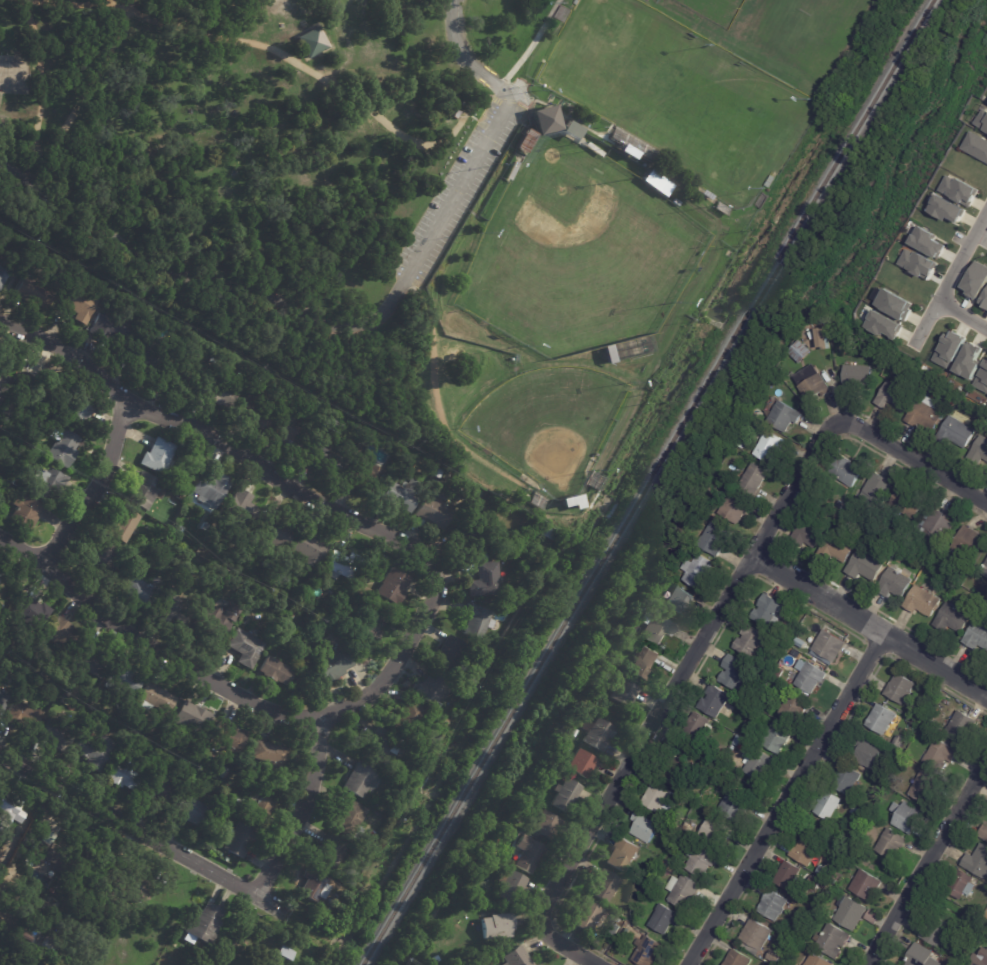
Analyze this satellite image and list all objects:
building: (648, 0)
building: (577, 2)
road: (70, 3)
park: (715, 10)
building: (563, 13)
building: (312, 41)
road: (532, 44)
road: (298, 56)
park: (621, 57)
building: (487, 61)
road: (297, 64)
park: (13, 75)
road: (41, 83)
road: (84, 92)
road: (485, 96)
building: (457, 106)
road: (468, 113)
building: (546, 119)
building: (982, 121)
road: (480, 122)
building: (572, 129)
park: (731, 131)
building: (527, 142)
road: (616, 144)
building: (634, 145)
building: (975, 147)
building: (594, 149)
building: (513, 170)
building: (772, 181)
building: (657, 182)
parking lot: (460, 185)
building: (957, 190)
building: (709, 194)
building: (764, 201)
park: (417, 204)
building: (678, 204)
building: (724, 208)
building: (946, 209)
building: (928, 243)
road: (29, 251)
park: (577, 252)
building: (917, 264)
building: (3, 276)
road: (949, 280)
building: (975, 280)
building: (35, 291)
building: (984, 301)
building: (81, 303)
building: (893, 304)
road: (962, 316)
building: (883, 325)
building: (111, 327)
road: (362, 328)
building: (824, 338)
building: (628, 348)
building: (948, 350)
building: (799, 353)
building: (148, 356)
building: (886, 359)
building: (968, 360)
building: (858, 374)
building: (982, 377)
building: (181, 380)
building: (4, 381)
building: (258, 381)
building: (777, 382)
building: (809, 387)
building: (36, 389)
building: (219, 393)
building: (889, 395)
road: (437, 398)
building: (9, 409)
building: (78, 412)
building: (259, 415)
building: (779, 415)
building: (925, 415)
building: (4, 420)
park: (545, 422)
building: (289, 431)
building: (956, 433)
road: (225, 442)
building: (763, 444)
building: (741, 445)
building: (65, 446)
building: (979, 450)
building: (158, 457)
road: (913, 459)
building: (326, 460)
building: (432, 465)
building: (847, 469)
building: (440, 473)
building: (365, 476)
building: (754, 479)
railway: (647, 482)
building: (48, 483)
building: (9, 486)
road: (97, 488)
building: (211, 489)
building: (145, 491)
building: (877, 492)
building: (404, 495)
building: (181, 496)
building: (442, 497)
building: (572, 502)
building: (908, 504)
building: (468, 505)
building: (190, 508)
building: (734, 509)
building: (23, 511)
building: (435, 511)
building: (240, 513)
building: (207, 514)
building: (940, 524)
building: (126, 526)
building: (205, 528)
building: (922, 529)
building: (165, 530)
building: (812, 532)
building: (278, 533)
building: (547, 534)
building: (471, 537)
building: (714, 539)
building: (967, 545)
building: (310, 548)
building: (837, 549)
building: (102, 560)
building: (136, 560)
building: (266, 564)
building: (344, 564)
building: (986, 564)
building: (866, 566)
building: (698, 570)
building: (985, 571)
building: (0, 575)
building: (486, 580)
building: (897, 583)
building: (394, 586)
building: (363, 590)
building: (142, 591)
building: (679, 600)
building: (924, 602)
building: (176, 605)
building: (1, 607)
building: (766, 609)
building: (31, 611)
building: (291, 613)
building: (218, 616)
building: (508, 616)
building: (954, 618)
building: (477, 622)
road: (868, 625)
building: (370, 626)
building: (656, 626)
building: (61, 633)
building: (977, 636)
building: (750, 639)
road: (153, 643)
building: (828, 645)
building: (242, 646)
building: (450, 653)
building: (93, 662)
building: (644, 662)
building: (333, 664)
building: (272, 669)
building: (614, 671)
building: (735, 672)
building: (810, 675)
building: (470, 677)
building: (125, 679)
building: (433, 688)
building: (900, 688)
building: (459, 691)
building: (624, 692)
building: (157, 698)
road: (665, 699)
building: (132, 700)
building: (714, 701)
building: (3, 702)
building: (793, 707)
building: (22, 713)
building: (193, 718)
building: (410, 718)
building: (882, 718)
road: (319, 720)
building: (930, 721)
building: (443, 722)
building: (696, 726)
building: (961, 726)
building: (925, 729)
building: (575, 732)
building: (598, 733)
building: (57, 735)
building: (228, 737)
building: (777, 738)
building: (738, 740)
building: (900, 740)
building: (383, 746)
building: (249, 749)
building: (867, 751)
building: (95, 753)
building: (272, 753)
building: (941, 754)
building: (888, 757)
building: (758, 762)
building: (582, 763)
building: (673, 769)
building: (222, 772)
building: (125, 776)
building: (845, 779)
building: (359, 780)
building: (406, 780)
building: (924, 787)
building: (161, 795)
building: (565, 795)
building: (883, 796)
building: (659, 797)
road: (782, 797)
building: (263, 802)
building: (828, 804)
building: (735, 805)
building: (9, 809)
building: (860, 810)
building: (192, 812)
building: (907, 816)
building: (349, 820)
building: (546, 824)
building: (645, 826)
building: (689, 827)
building: (663, 828)
building: (716, 831)
building: (984, 832)
road: (143, 833)
building: (239, 840)
building: (863, 841)
building: (891, 843)
building: (807, 850)
building: (329, 852)
building: (528, 853)
building: (622, 855)
building: (56, 856)
building: (839, 856)
building: (700, 859)
building: (671, 860)
building: (978, 861)
road: (928, 863)
building: (673, 868)
building: (823, 871)
building: (787, 875)
building: (127, 880)
building: (814, 881)
building: (510, 884)
building: (867, 884)
building: (962, 884)
building: (604, 885)
building: (314, 887)
building: (683, 891)
building: (334, 898)
building: (773, 904)
building: (853, 913)
building: (831, 914)
building: (587, 915)
building: (332, 917)
building: (617, 918)
building: (0, 919)
building: (665, 919)
building: (500, 924)
building: (204, 925)
building: (937, 931)
building: (756, 934)
building: (831, 939)
building: (976, 939)
building: (50, 945)
building: (648, 951)
building: (285, 954)
building: (774, 956)
building: (923, 956)
building: (516, 957)
building: (980, 958)
building: (435, 959)
building: (737, 959)
building: (818, 960)

